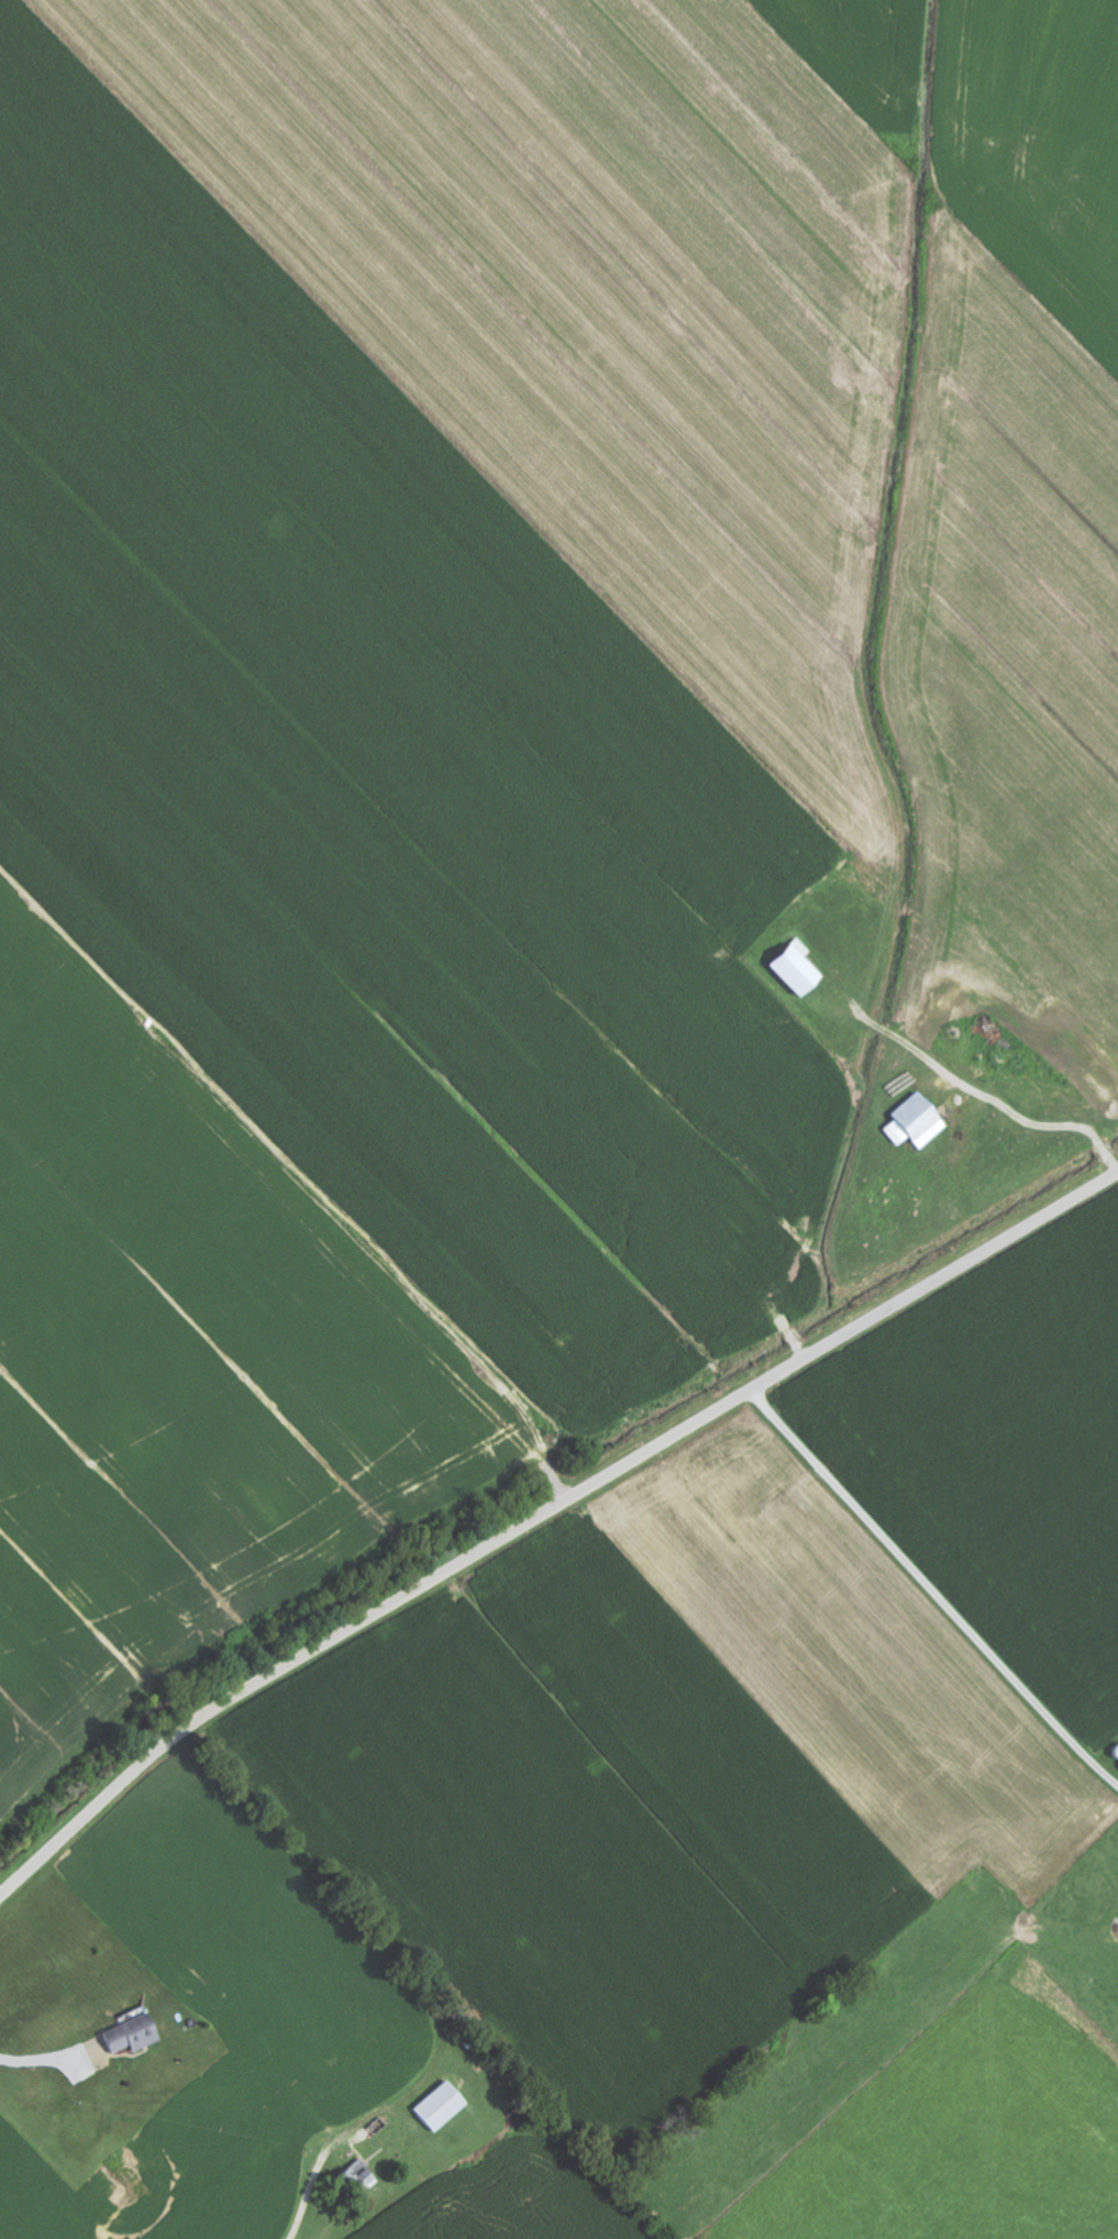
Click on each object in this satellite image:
building: (798, 969)
building: (918, 1123)
road: (543, 1512)
road: (934, 1587)
building: (139, 2040)
building: (442, 2106)
road: (632, 2199)

